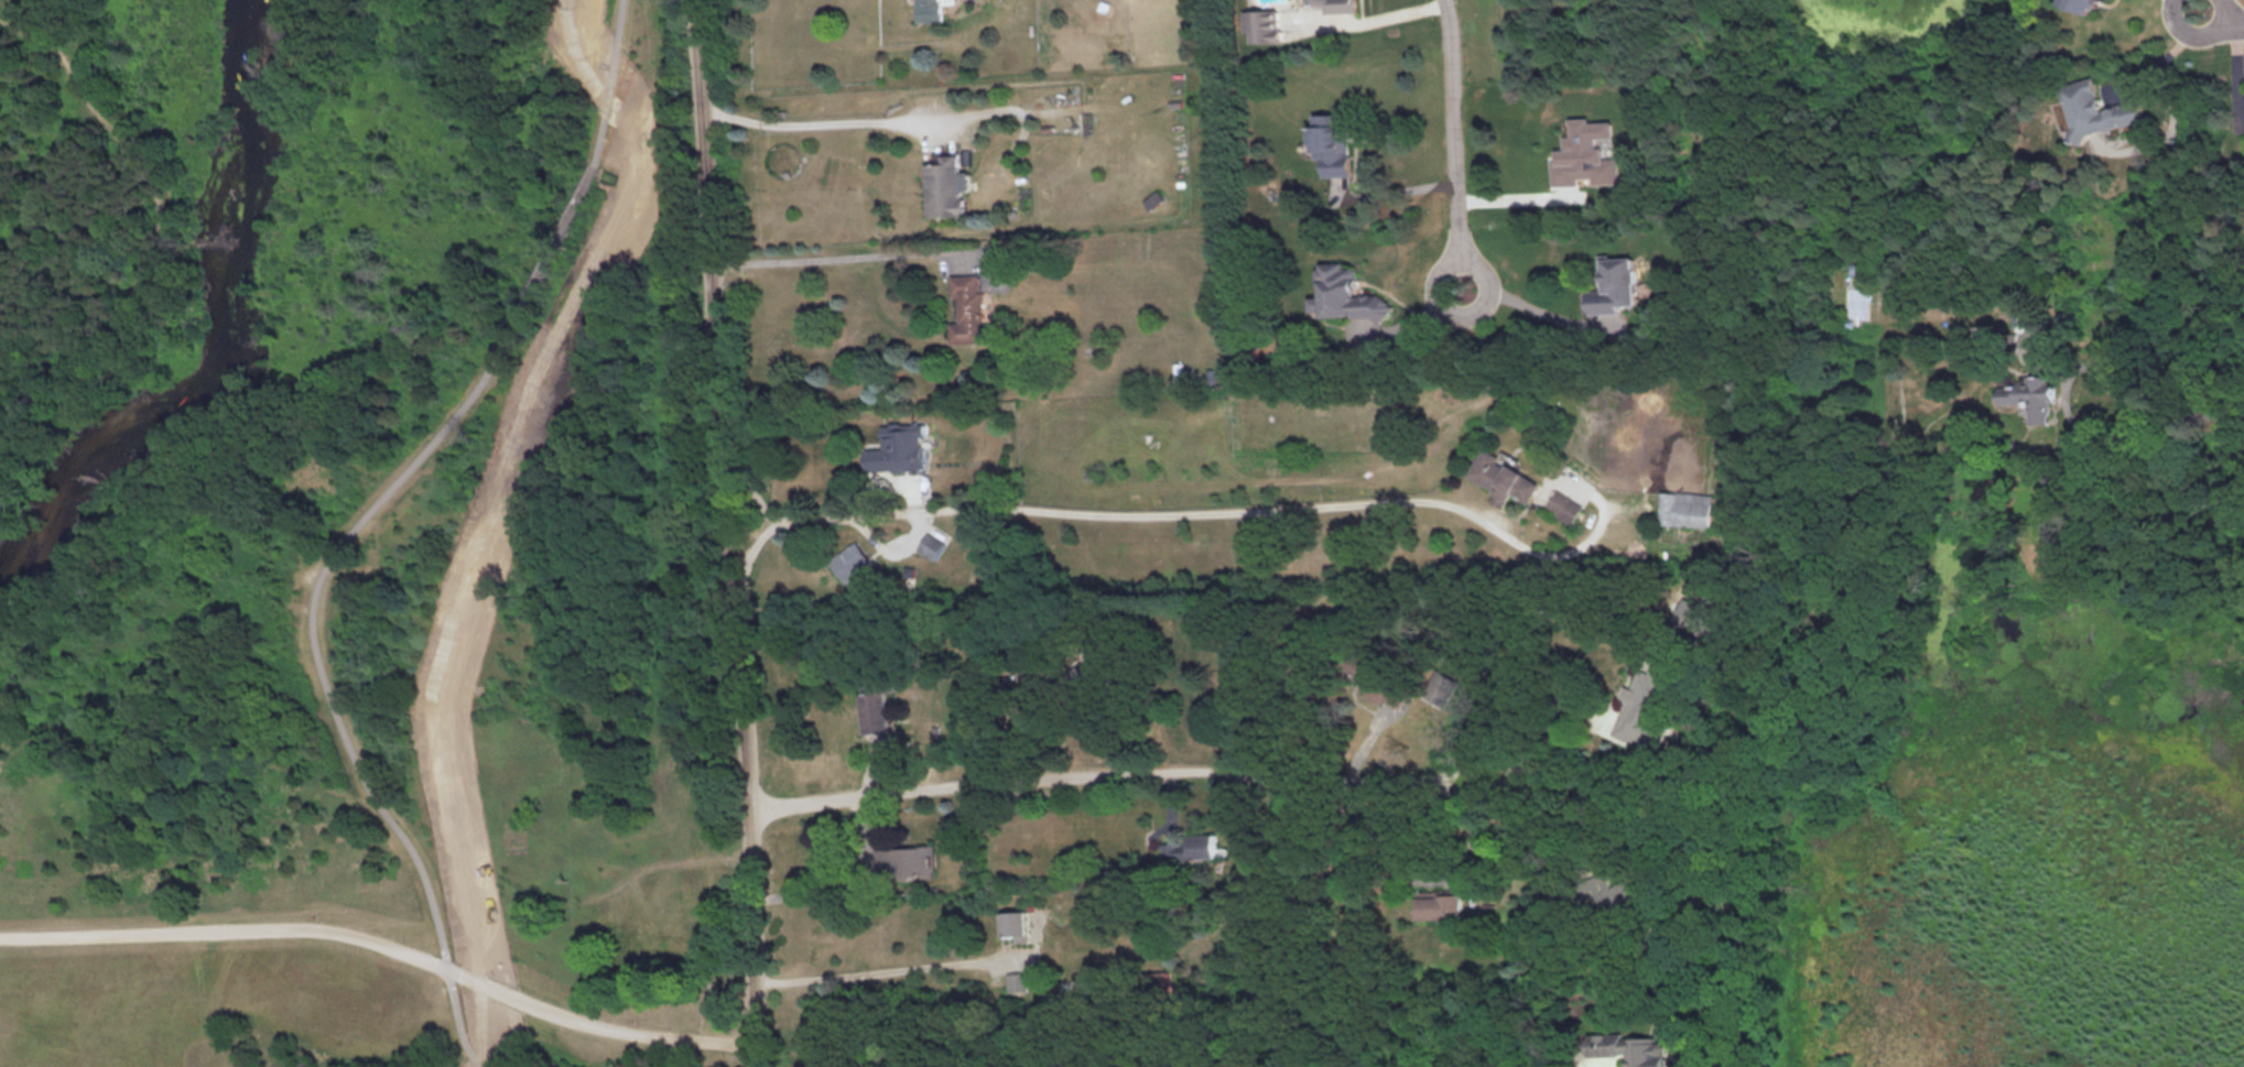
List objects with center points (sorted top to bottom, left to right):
building: (2081, 4)
building: (1338, 6)
building: (930, 10)
road: (2223, 18)
road: (1368, 20)
building: (1262, 24)
road: (2166, 57)
road: (609, 83)
building: (2094, 109)
road: (811, 121)
building: (1332, 142)
road: (1460, 142)
building: (1586, 154)
building: (946, 183)
road: (1396, 189)
road: (1521, 199)
road: (835, 255)
road: (544, 258)
building: (1615, 285)
building: (1346, 294)
building: (969, 308)
road: (1538, 311)
river: (230, 341)
building: (2009, 386)
building: (2029, 395)
road: (2082, 423)
building: (900, 447)
building: (1504, 478)
building: (1564, 505)
road: (1086, 508)
building: (1690, 508)
road: (736, 532)
park: (362, 540)
building: (931, 545)
road: (1536, 549)
building: (852, 560)
building: (1695, 614)
building: (1377, 686)
building: (1437, 688)
road: (325, 693)
building: (1645, 706)
building: (875, 709)
road: (1564, 729)
road: (1137, 770)
building: (1190, 847)
building: (904, 861)
road: (1437, 874)
road: (852, 889)
building: (1440, 904)
building: (1017, 924)
road: (384, 946)
road: (877, 971)
building: (1160, 979)
building: (1017, 980)
building: (1075, 987)
building: (1628, 1048)

